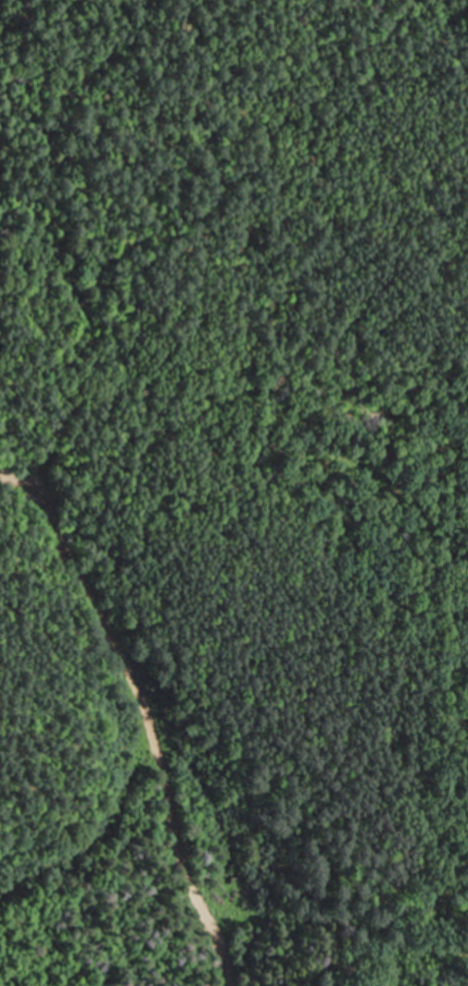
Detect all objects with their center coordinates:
road: (150, 707)
road: (105, 824)

